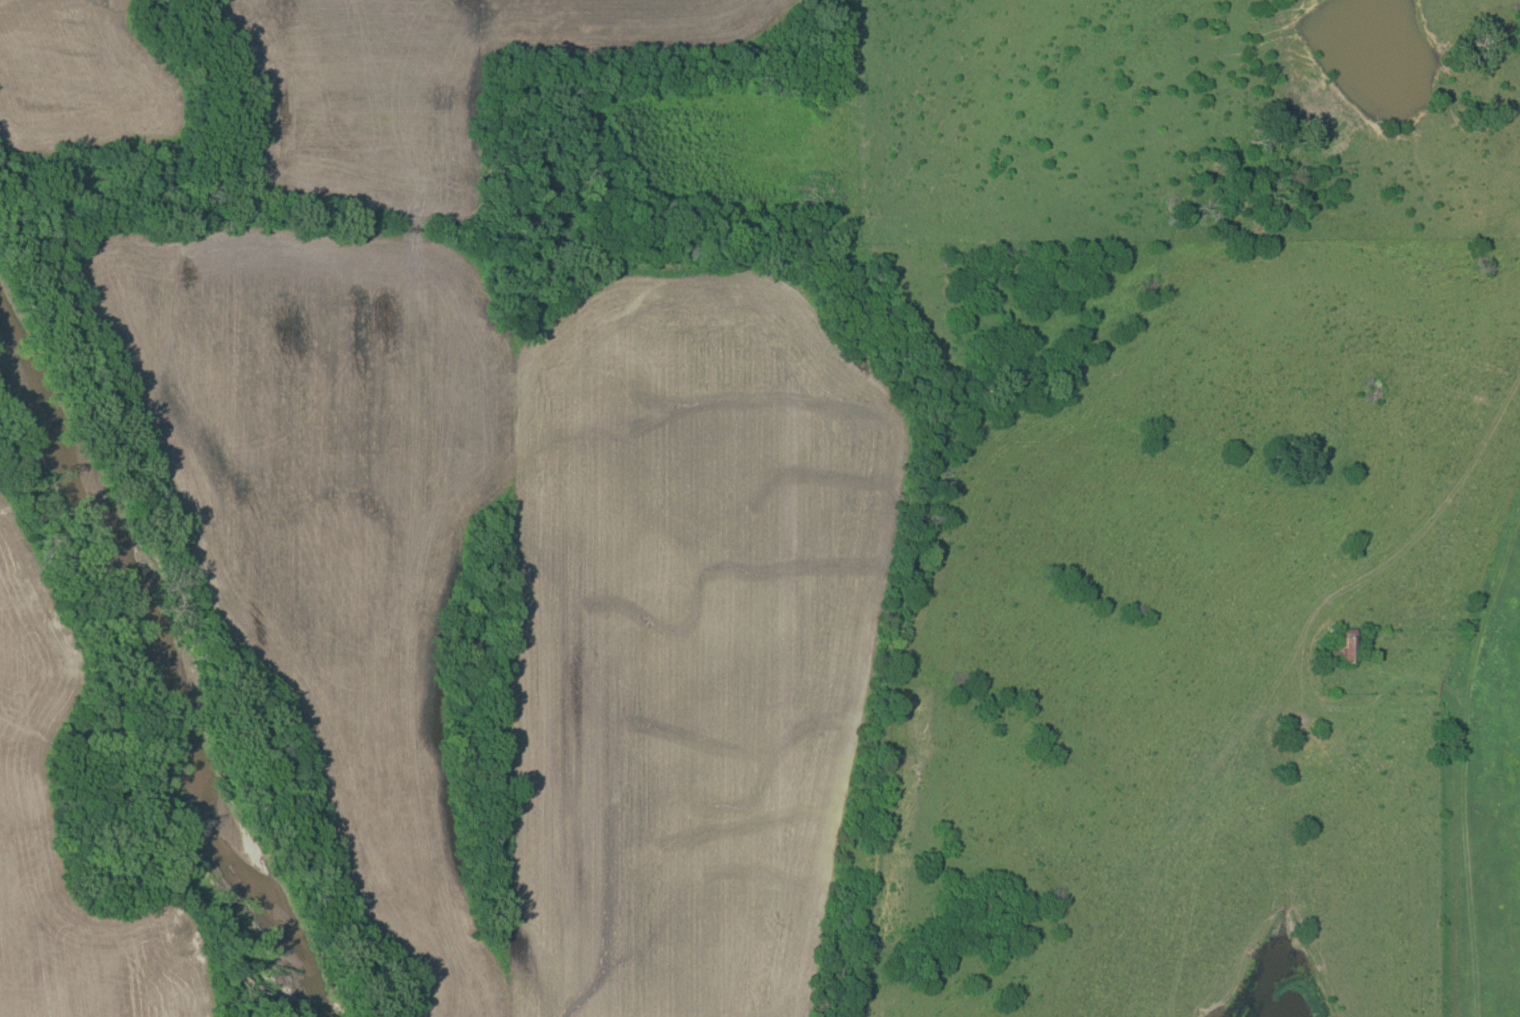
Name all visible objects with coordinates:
building: (1339, 649)

